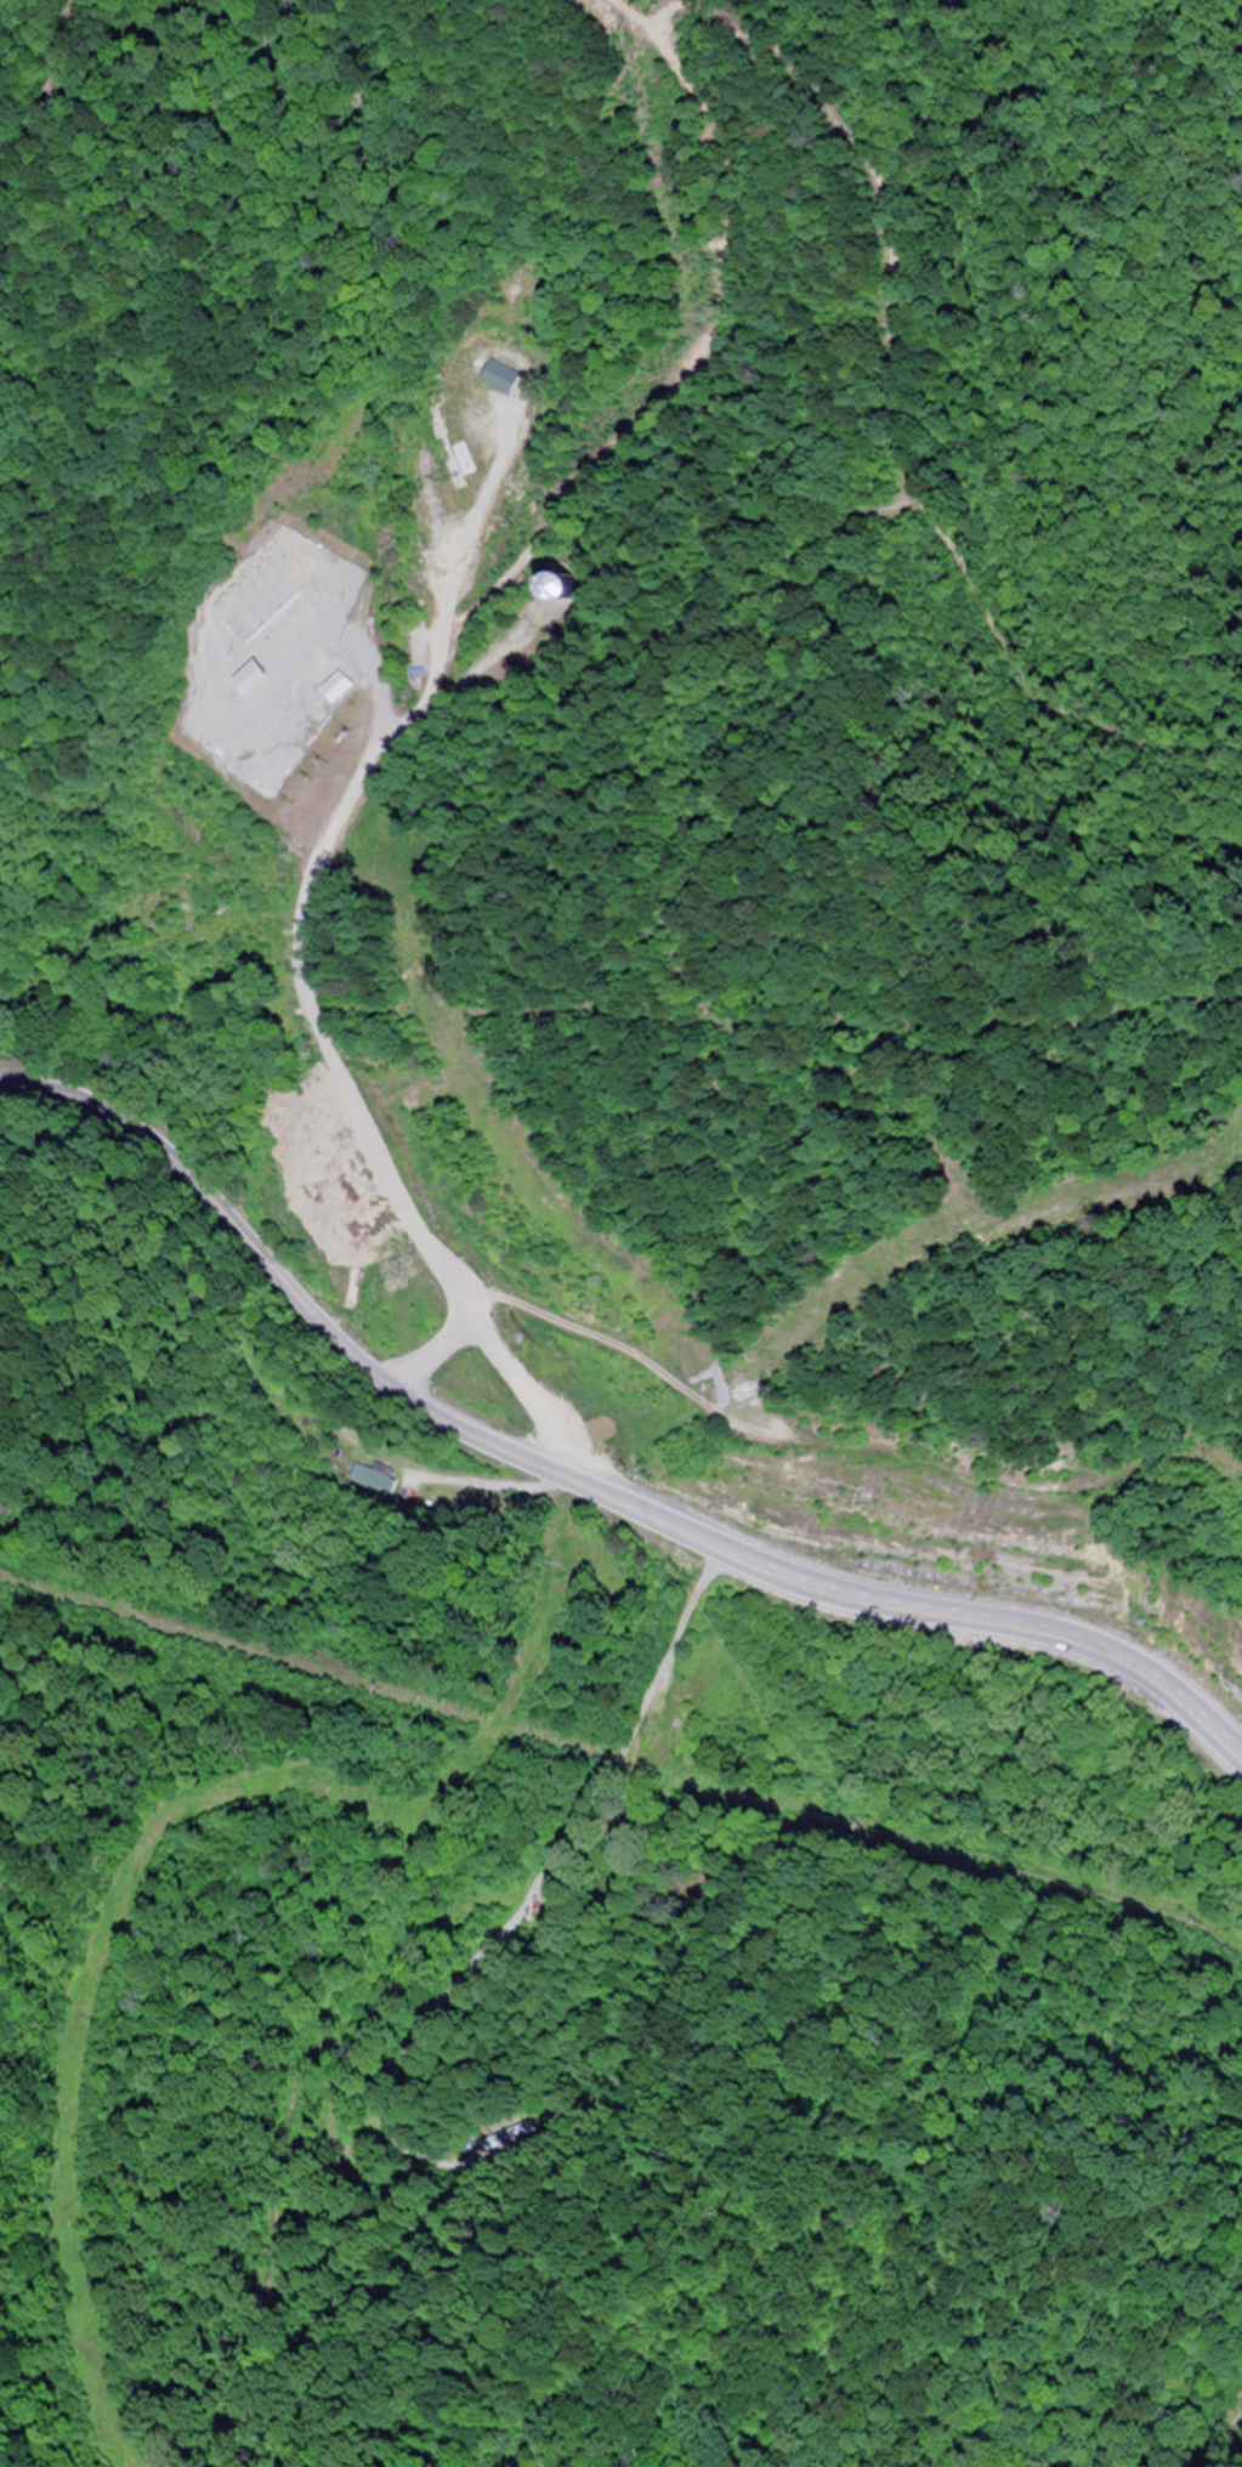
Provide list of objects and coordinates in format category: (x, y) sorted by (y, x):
building: (507, 378)
building: (276, 580)
building: (580, 585)
building: (266, 674)
building: (358, 687)
road: (607, 1352)
road: (585, 1490)
road: (686, 1615)
building: (670, 1703)

